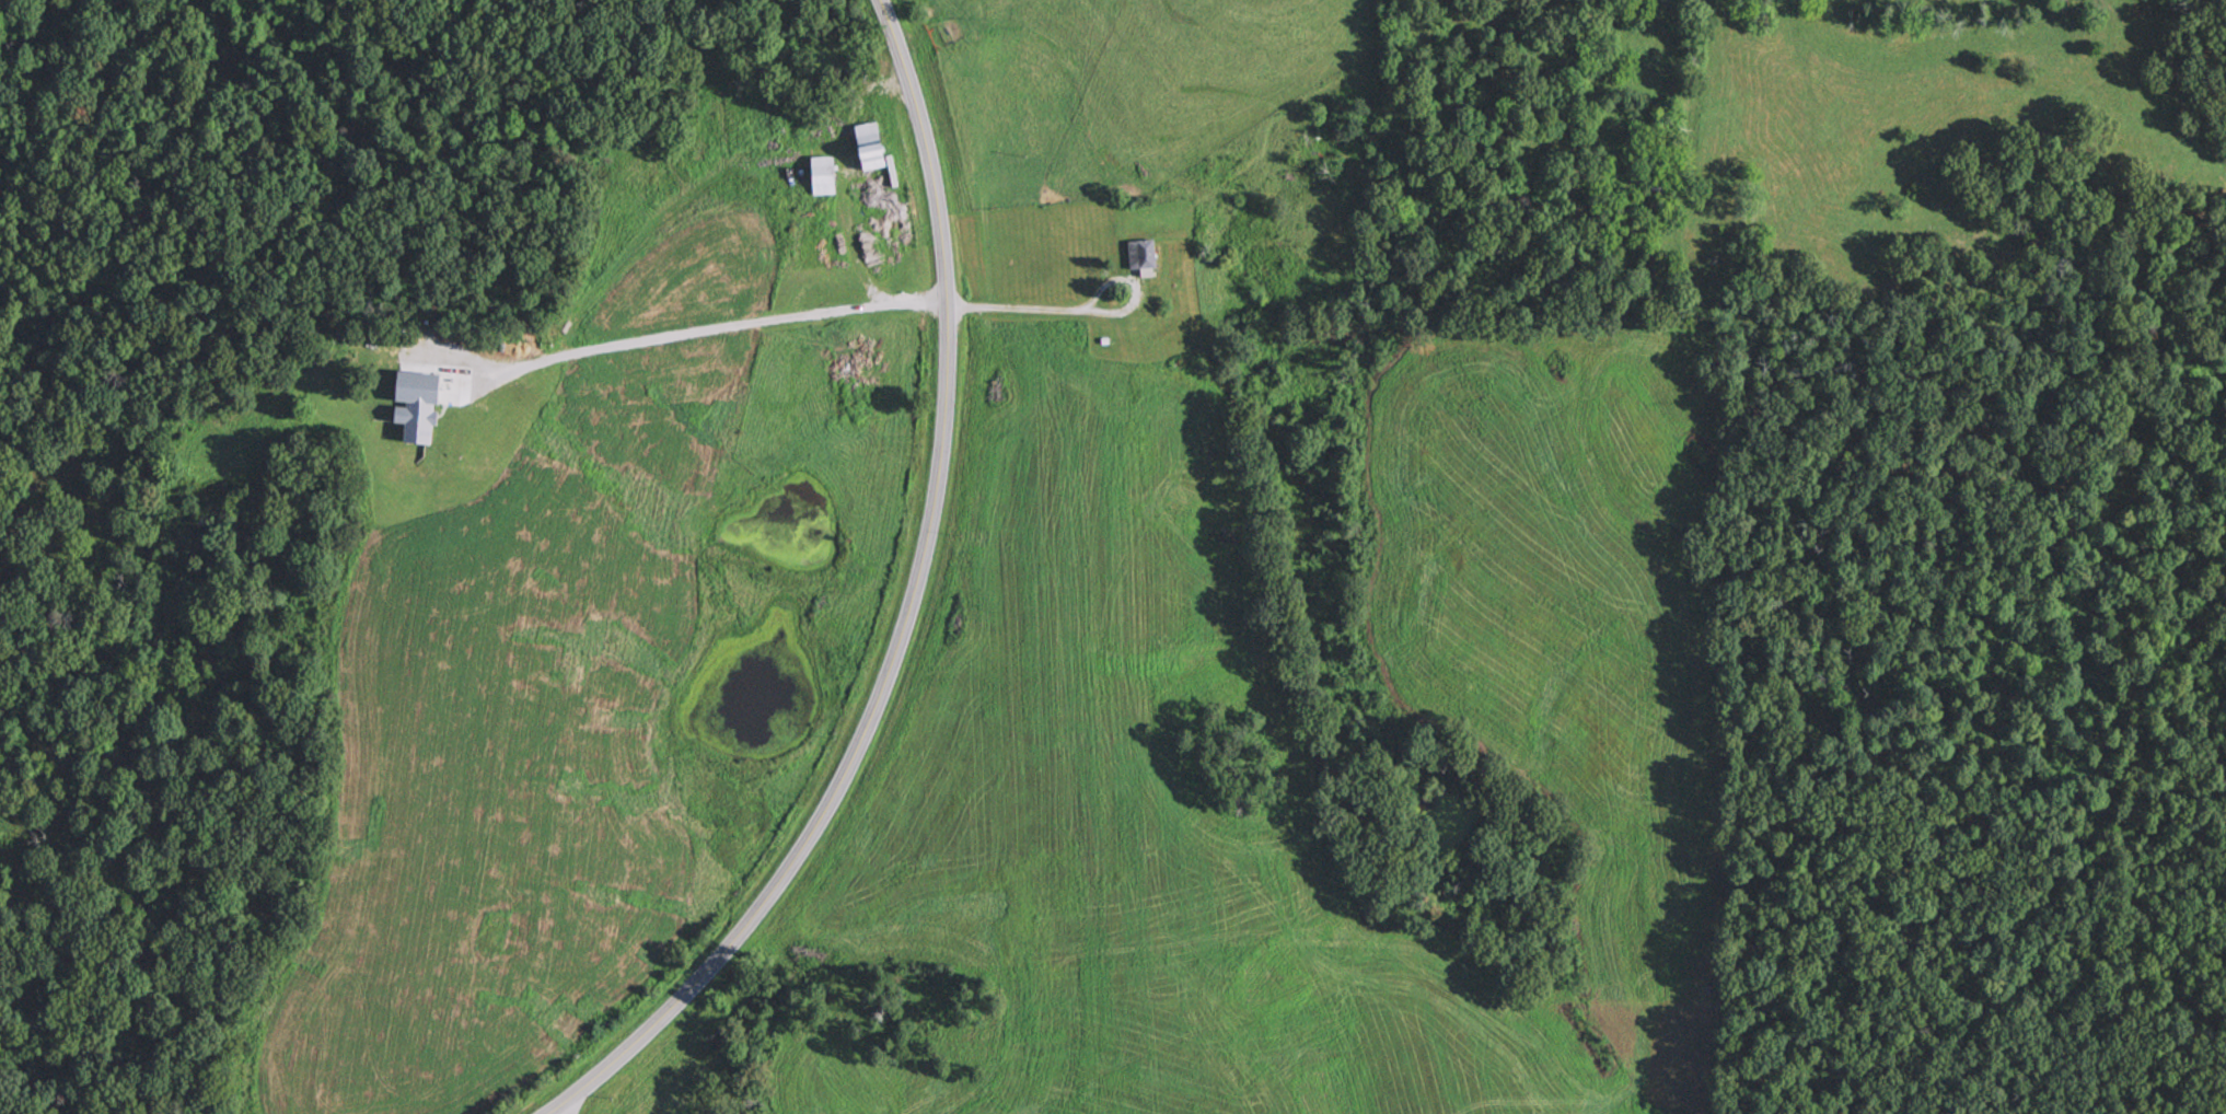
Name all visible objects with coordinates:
building: (873, 146)
building: (825, 175)
building: (1144, 254)
road: (906, 607)

